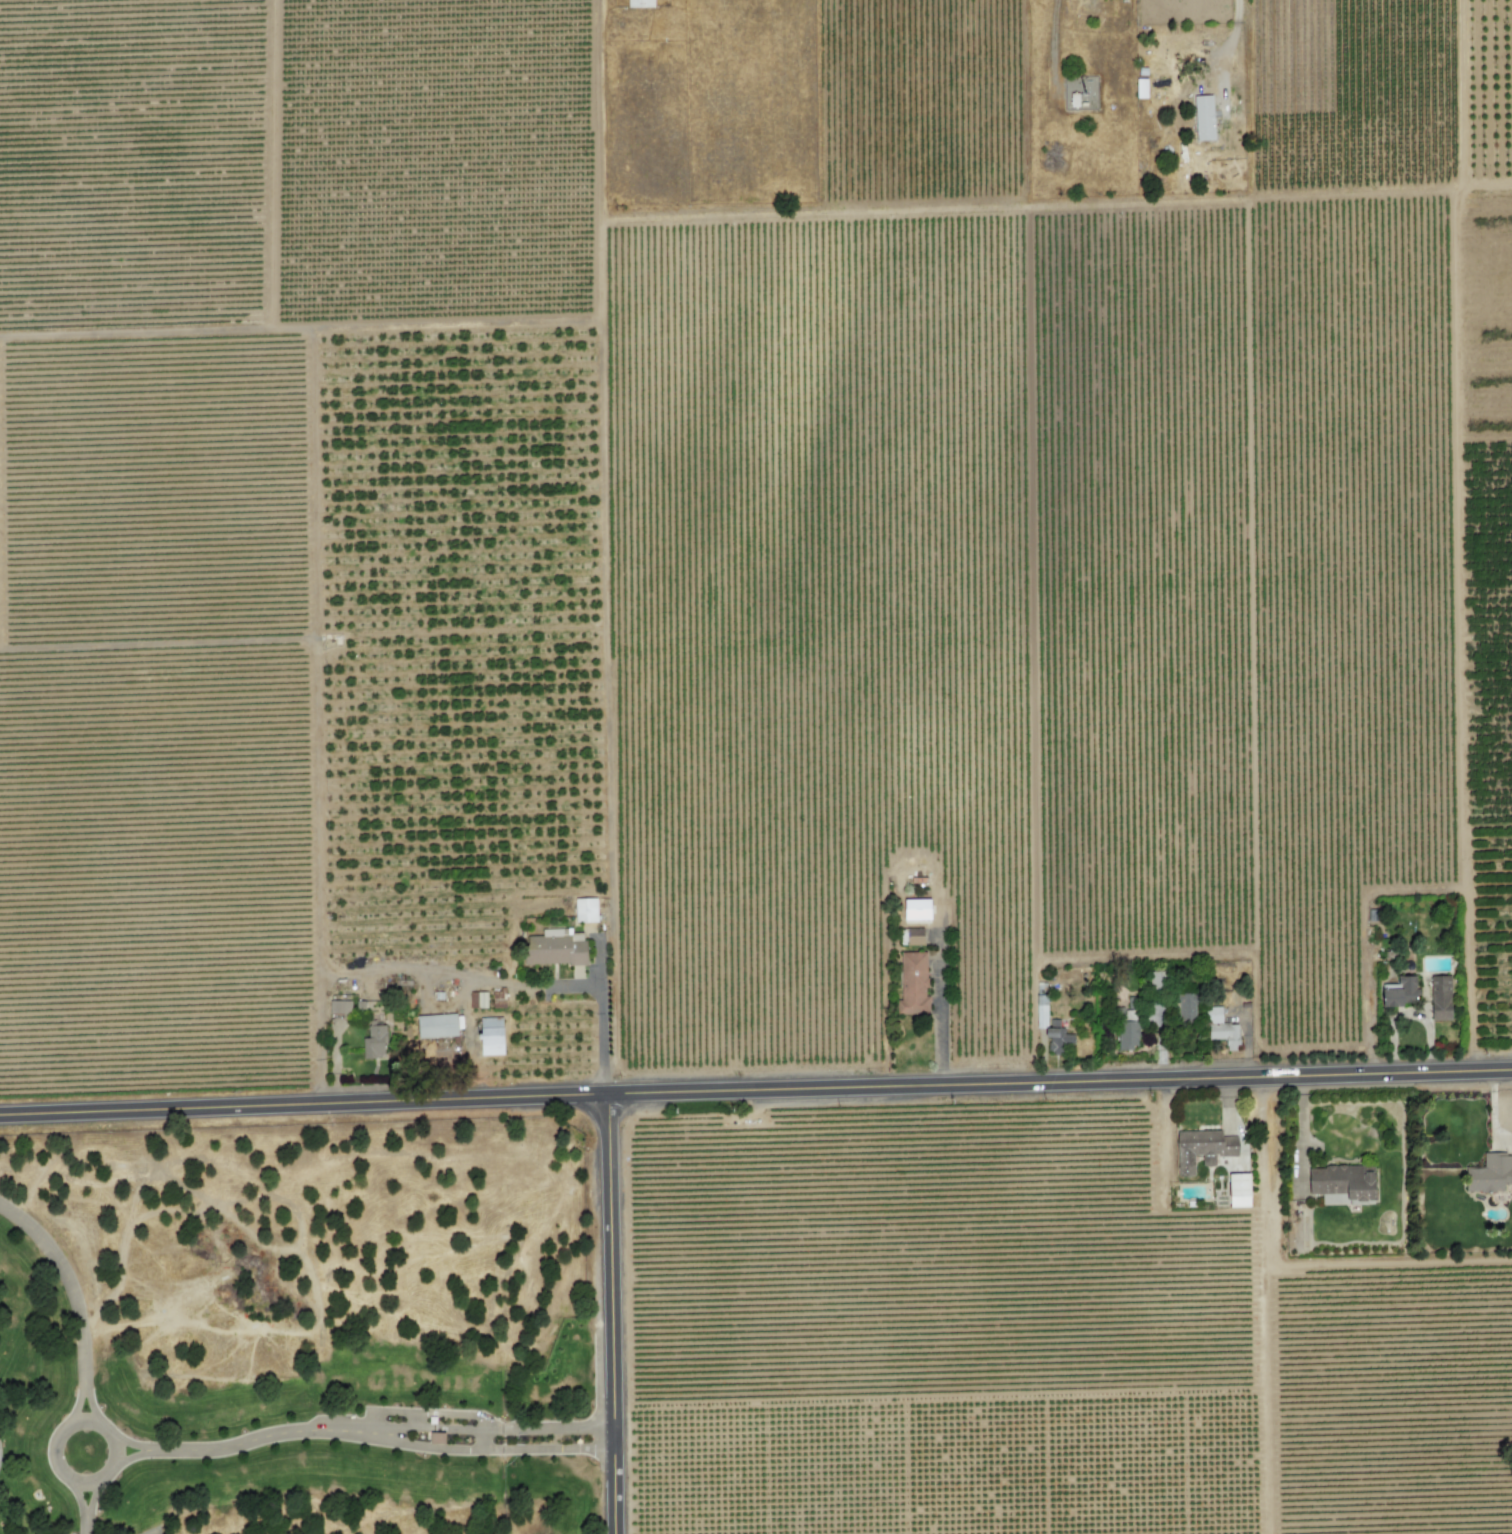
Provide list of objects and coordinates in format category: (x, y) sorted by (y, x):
building: (639, 3)
road: (1237, 23)
building: (1140, 88)
building: (1202, 117)
building: (916, 909)
building: (585, 910)
building: (941, 913)
building: (911, 936)
building: (554, 948)
building: (912, 983)
building: (1398, 992)
building: (1440, 998)
building: (477, 999)
building: (497, 999)
building: (1040, 1005)
building: (1185, 1006)
building: (339, 1007)
road: (939, 1008)
building: (436, 1026)
building: (1220, 1029)
road: (600, 1035)
building: (490, 1036)
building: (374, 1041)
road: (755, 1090)
building: (1202, 1149)
building: (1490, 1174)
building: (1342, 1184)
building: (1238, 1190)
road: (69, 1284)
road: (613, 1313)
park: (296, 1329)
road: (88, 1404)
road: (76, 1405)
road: (492, 1428)
road: (54, 1437)
road: (259, 1438)
road: (132, 1443)
road: (491, 1449)
road: (132, 1456)
road: (77, 1498)
road: (91, 1498)
road: (85, 1524)

